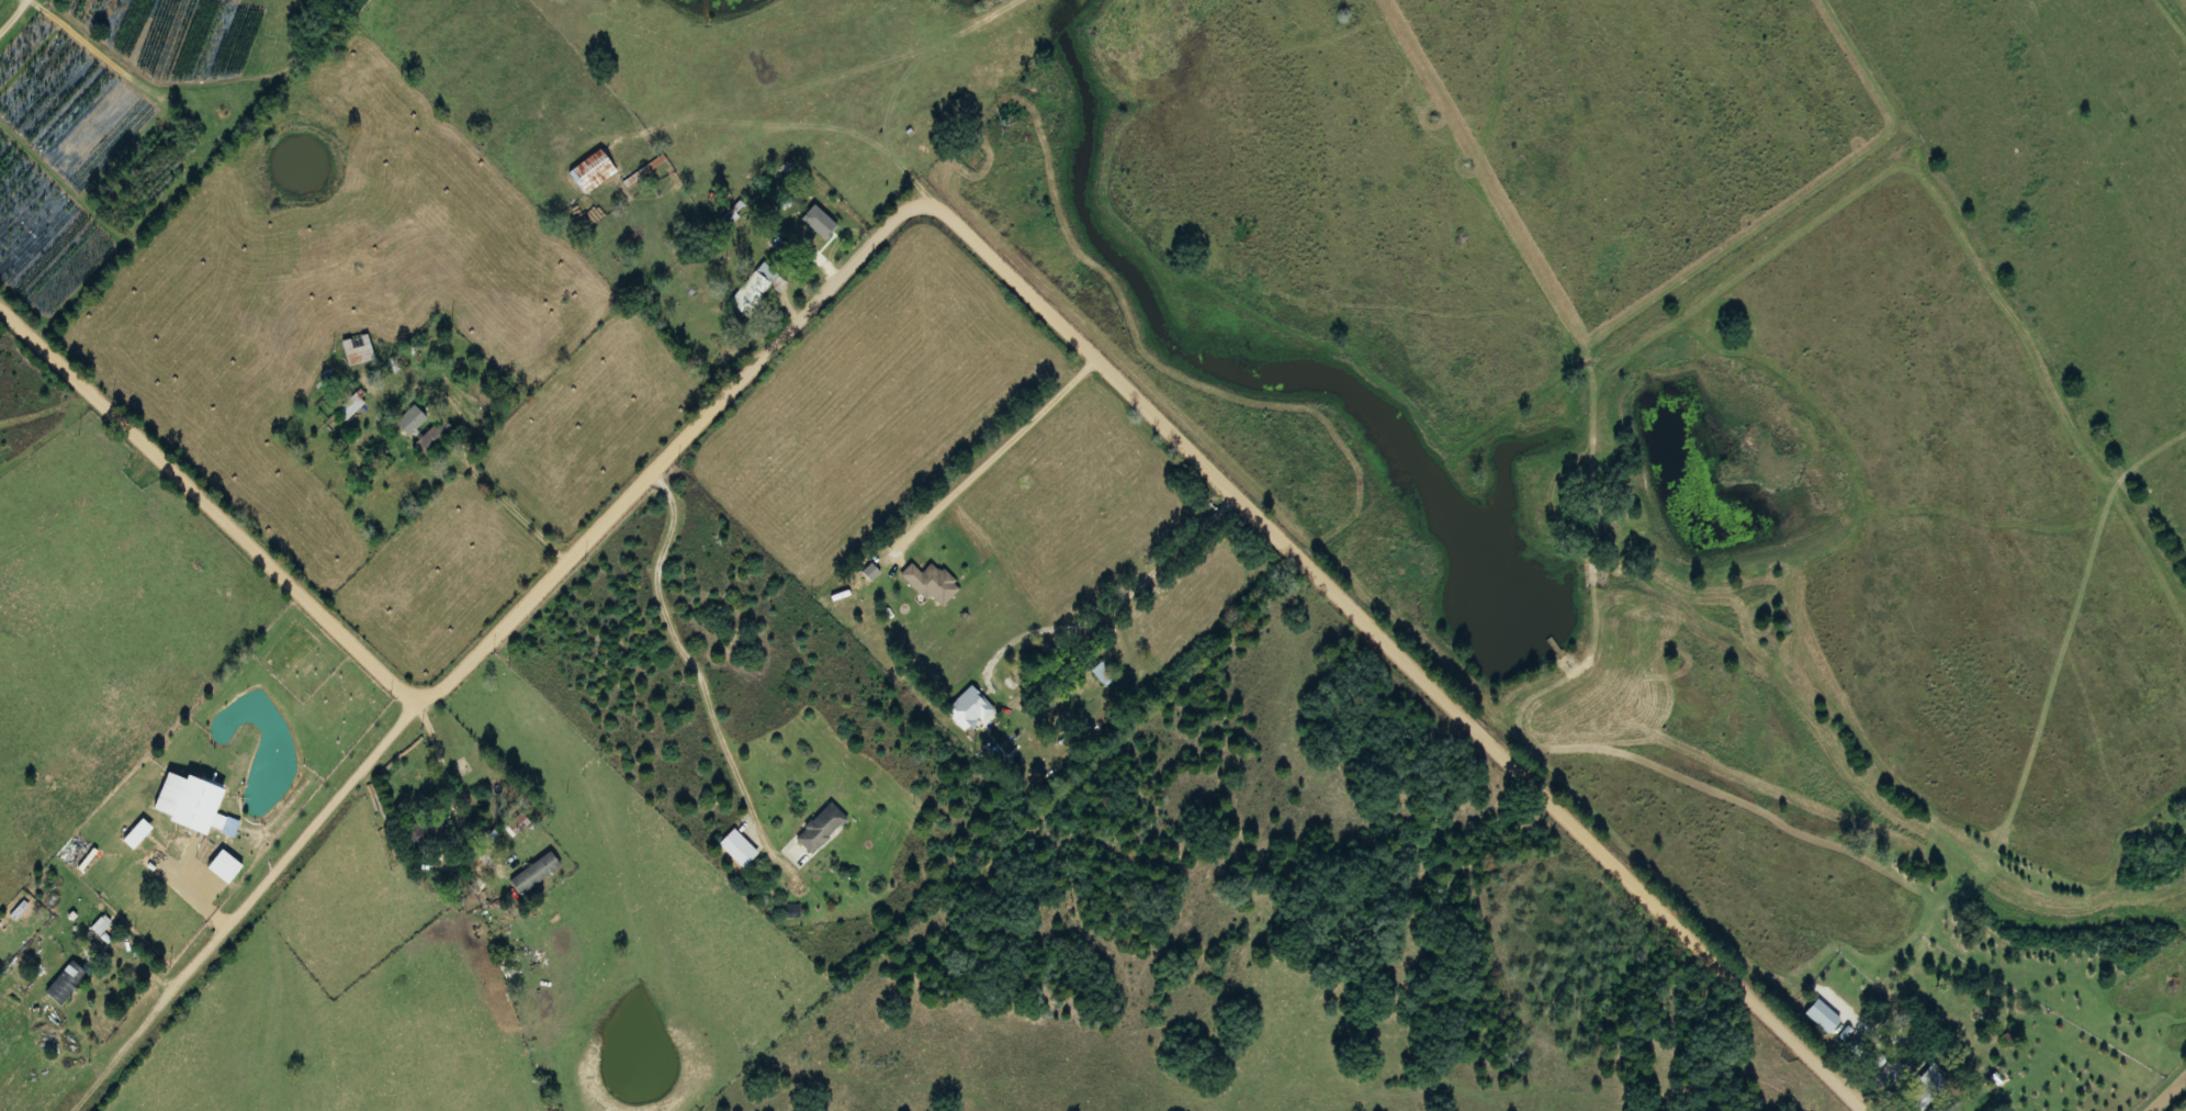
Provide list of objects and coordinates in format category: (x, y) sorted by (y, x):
road: (8, 10)
building: (588, 172)
road: (938, 204)
building: (814, 226)
building: (752, 289)
building: (353, 350)
building: (345, 405)
building: (407, 420)
building: (428, 442)
road: (992, 453)
building: (926, 582)
road: (1117, 606)
building: (1098, 673)
building: (956, 716)
building: (816, 829)
building: (421, 832)
road: (256, 899)
building: (61, 983)
building: (1818, 1015)
building: (1859, 1050)
building: (1929, 1079)
road: (2167, 1092)

